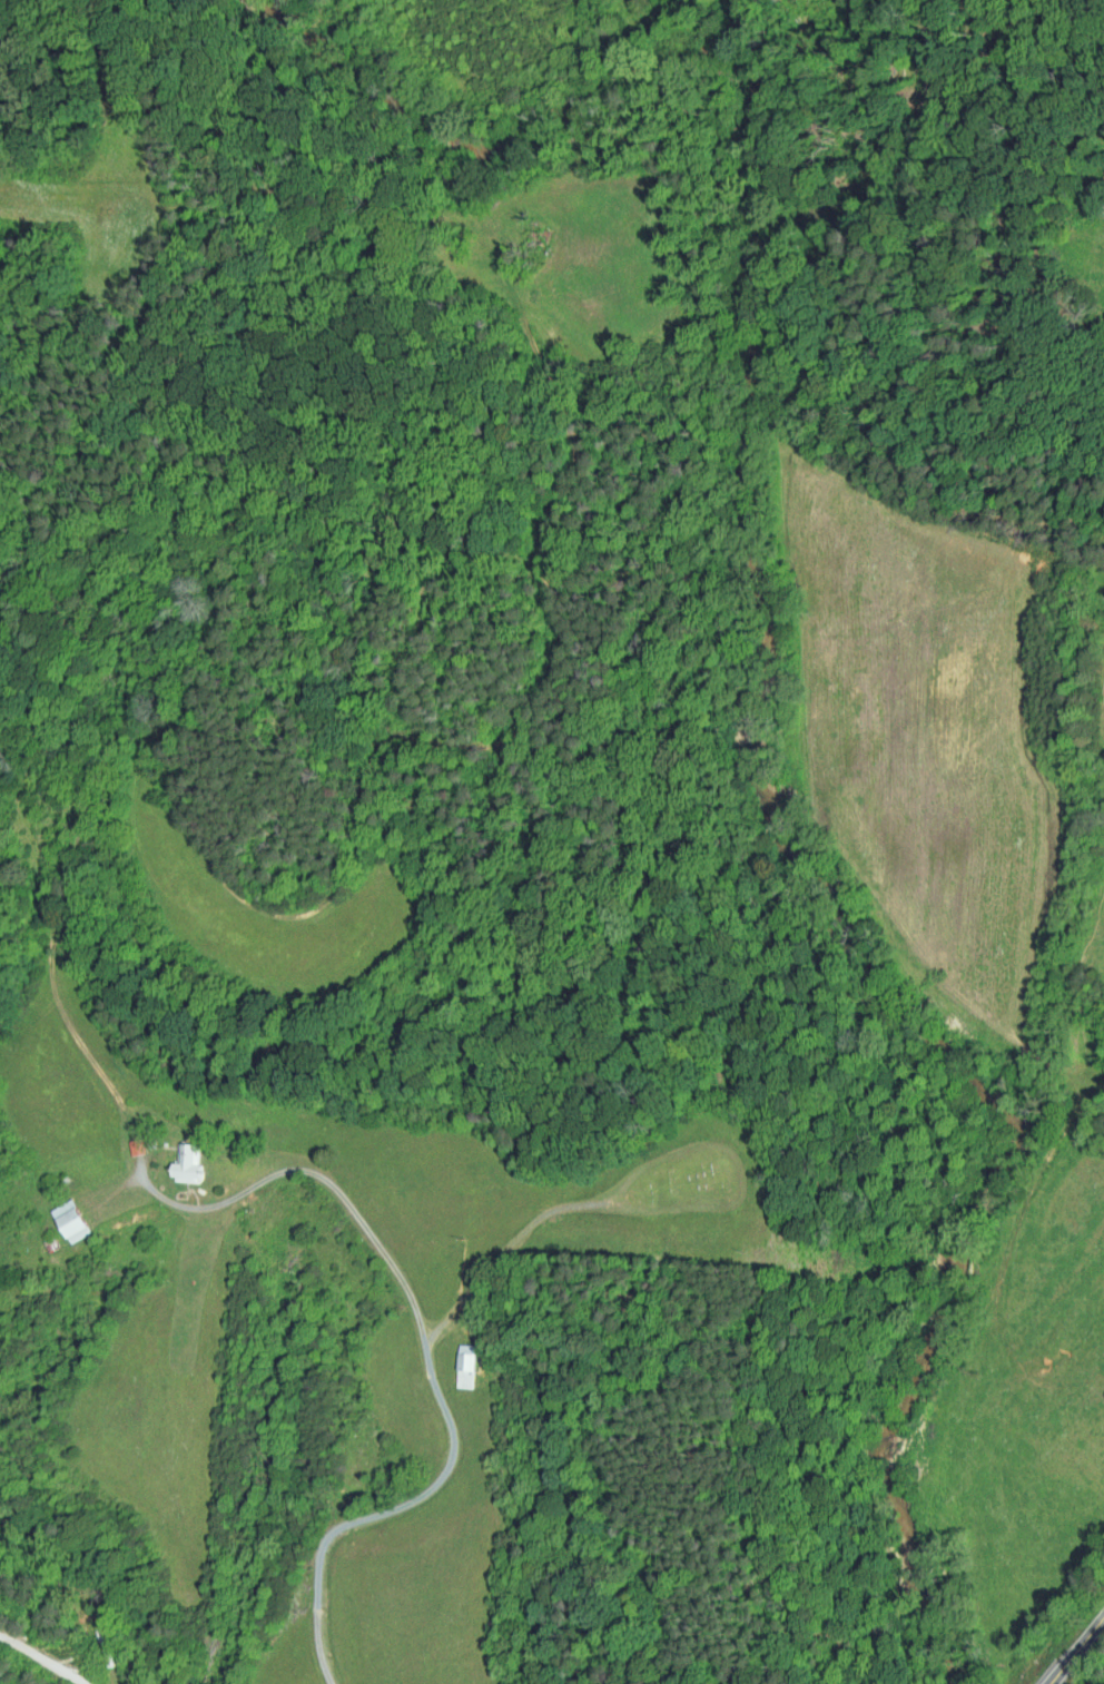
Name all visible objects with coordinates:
building: (122, 1141)
building: (175, 1159)
building: (188, 1164)
building: (67, 1181)
park: (683, 1193)
building: (57, 1215)
building: (72, 1221)
building: (53, 1244)
road: (425, 1343)
building: (453, 1360)
building: (469, 1367)
building: (105, 1646)
road: (1075, 1648)
road: (42, 1657)

